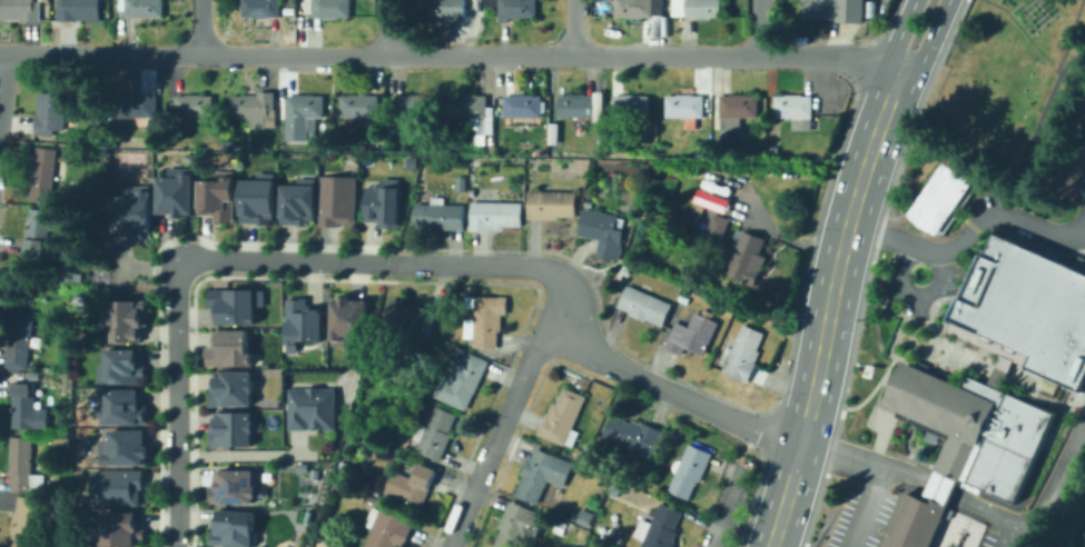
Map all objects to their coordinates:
building: (479, 6)
building: (145, 8)
building: (262, 8)
building: (448, 8)
building: (513, 8)
building: (704, 8)
building: (334, 9)
building: (639, 9)
building: (835, 9)
building: (19, 10)
building: (79, 10)
road: (384, 27)
road: (572, 27)
road: (758, 27)
road: (203, 28)
road: (897, 32)
road: (928, 40)
road: (448, 53)
park: (1019, 87)
building: (140, 107)
building: (196, 107)
building: (361, 107)
building: (414, 107)
building: (578, 107)
building: (685, 107)
building: (739, 107)
building: (631, 108)
building: (257, 110)
building: (523, 110)
building: (797, 111)
building: (50, 113)
building: (475, 115)
building: (305, 118)
building: (605, 119)
building: (602, 129)
building: (87, 136)
building: (59, 139)
building: (606, 143)
building: (773, 150)
building: (698, 158)
building: (46, 176)
building: (707, 178)
building: (671, 181)
building: (461, 183)
building: (176, 190)
building: (220, 195)
building: (258, 197)
building: (940, 197)
building: (338, 199)
building: (710, 199)
building: (298, 201)
building: (383, 201)
building: (589, 203)
building: (551, 205)
building: (134, 210)
building: (440, 215)
building: (495, 215)
building: (696, 221)
road: (1035, 225)
building: (719, 227)
road: (1084, 230)
building: (603, 231)
building: (39, 235)
road: (966, 237)
road: (896, 238)
building: (746, 257)
road: (539, 267)
building: (625, 269)
road: (919, 271)
building: (683, 299)
building: (237, 304)
building: (645, 306)
road: (828, 306)
building: (1028, 307)
building: (445, 310)
building: (411, 317)
building: (128, 318)
building: (347, 318)
building: (485, 319)
building: (303, 321)
building: (442, 326)
building: (693, 334)
building: (19, 340)
building: (229, 348)
building: (460, 348)
building: (743, 354)
building: (121, 365)
building: (998, 369)
building: (462, 380)
building: (233, 387)
building: (122, 405)
road: (179, 405)
building: (28, 407)
building: (313, 407)
building: (563, 418)
building: (233, 428)
building: (436, 432)
building: (633, 435)
road: (499, 439)
building: (960, 445)
building: (124, 447)
road: (246, 454)
road: (864, 459)
building: (23, 466)
building: (689, 469)
building: (542, 474)
building: (412, 484)
building: (117, 486)
building: (234, 486)
building: (376, 494)
road: (867, 507)
road: (727, 508)
road: (1039, 517)
building: (585, 518)
building: (26, 521)
building: (519, 525)
building: (235, 527)
building: (660, 527)
building: (120, 528)
building: (386, 529)
road: (1009, 537)

